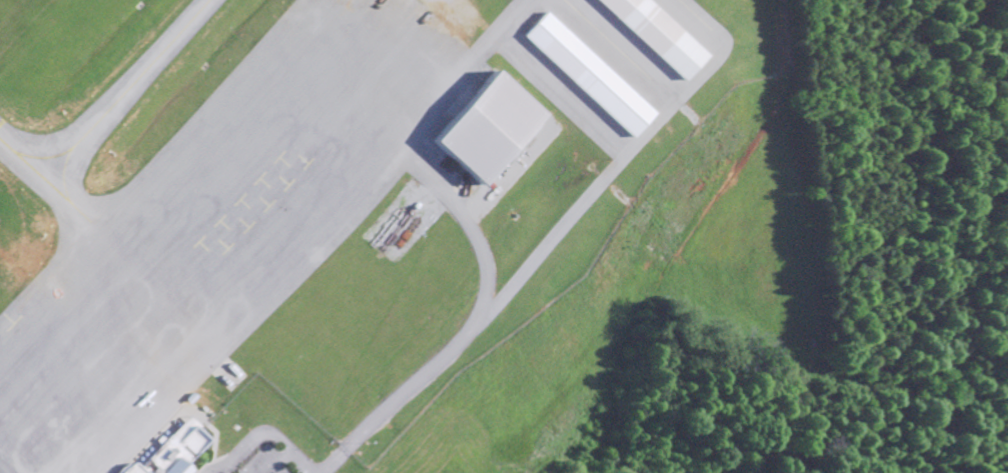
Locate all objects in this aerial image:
building: (652, 34)
building: (583, 75)
airport taxiway: (115, 86)
building: (475, 128)
airport taxiway: (42, 180)
airport: (312, 205)
airport apron: (219, 225)
road: (262, 435)
building: (171, 451)

